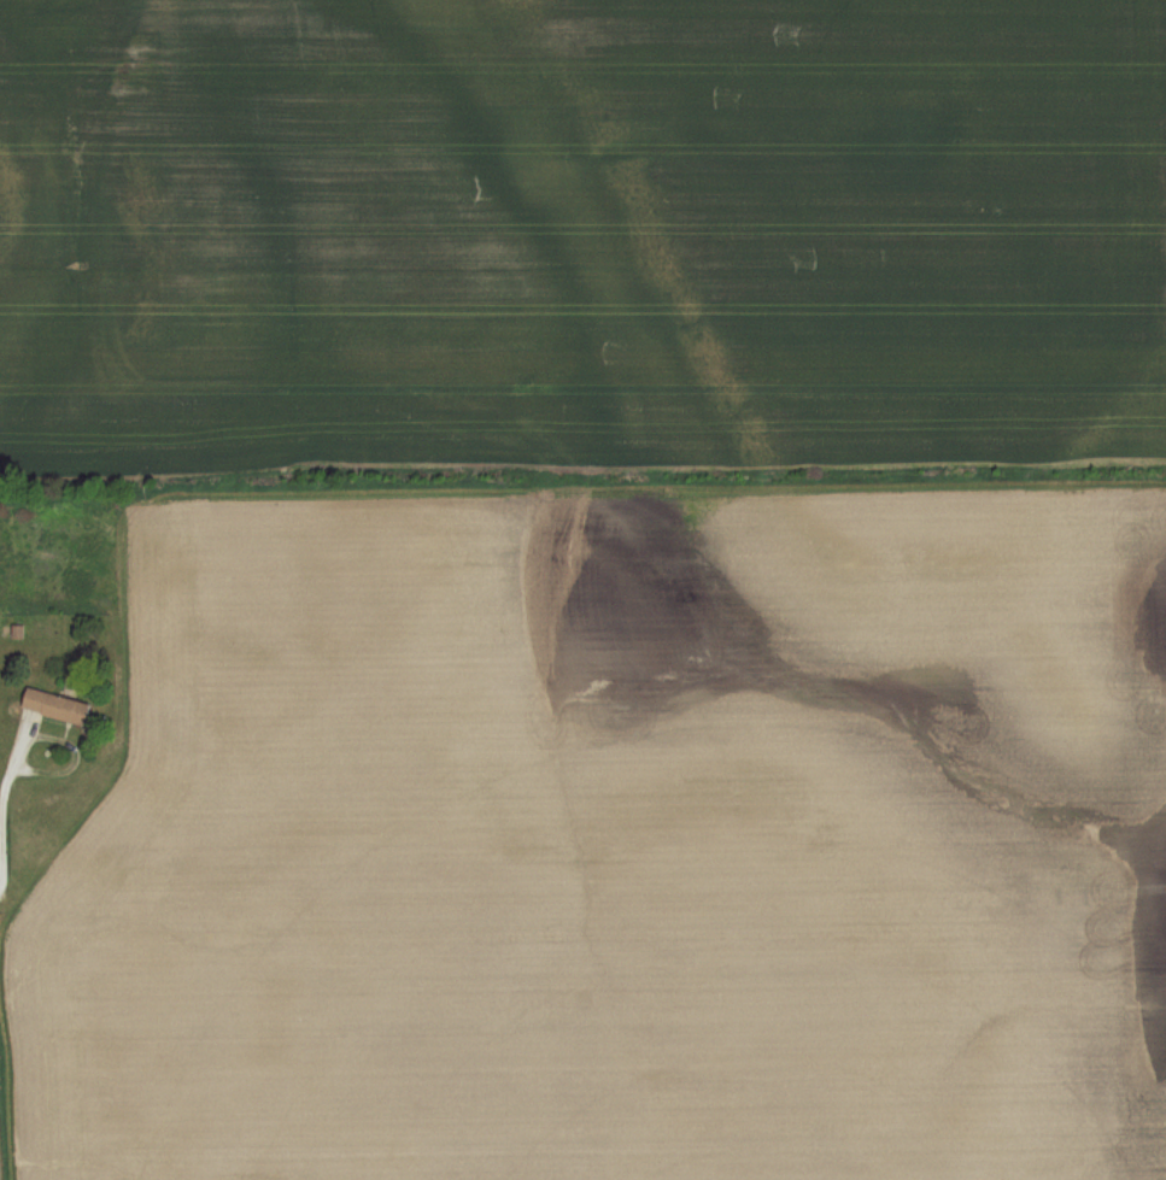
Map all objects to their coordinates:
building: (53, 705)
road: (10, 755)

